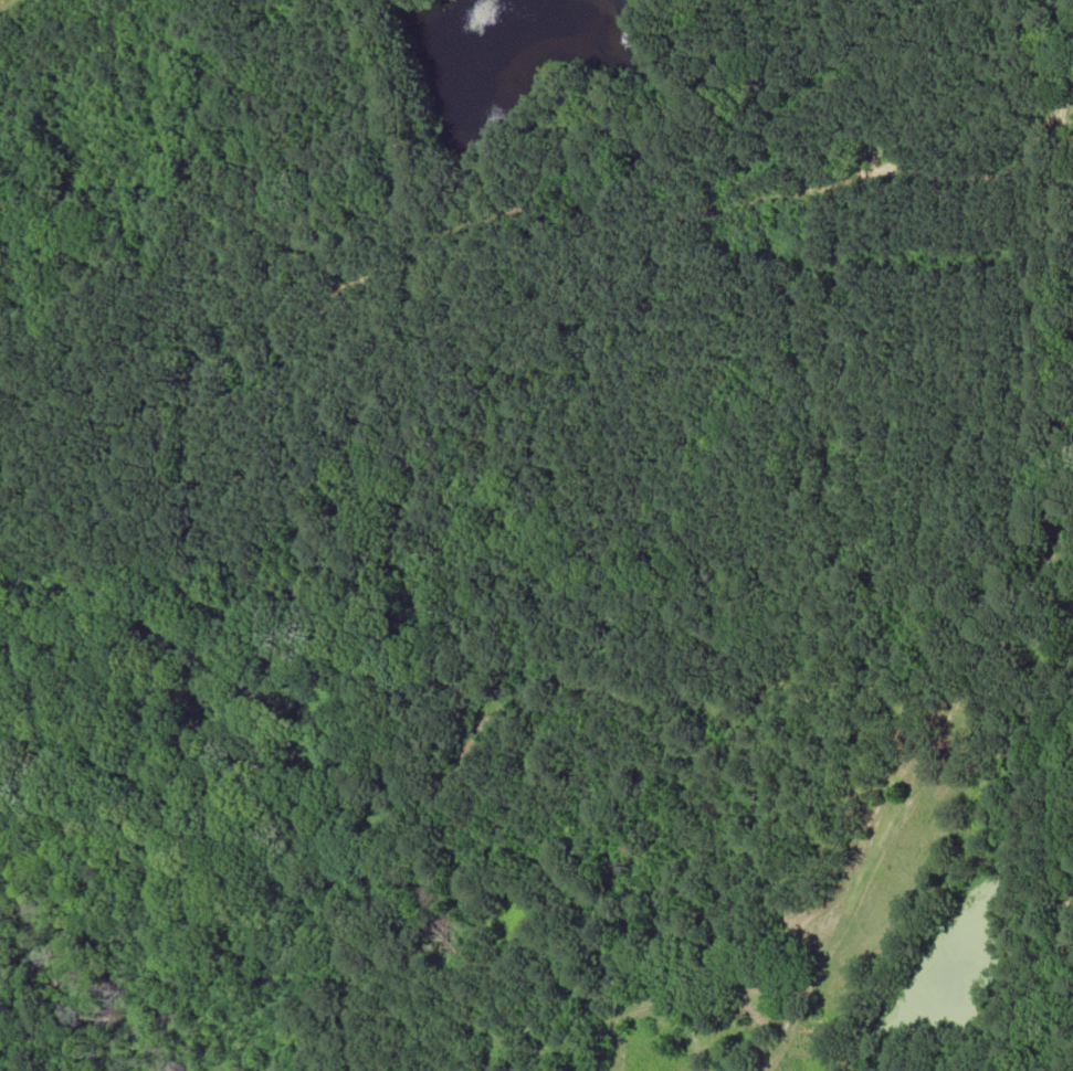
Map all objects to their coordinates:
road: (1052, 310)
road: (885, 729)
road: (1046, 804)

